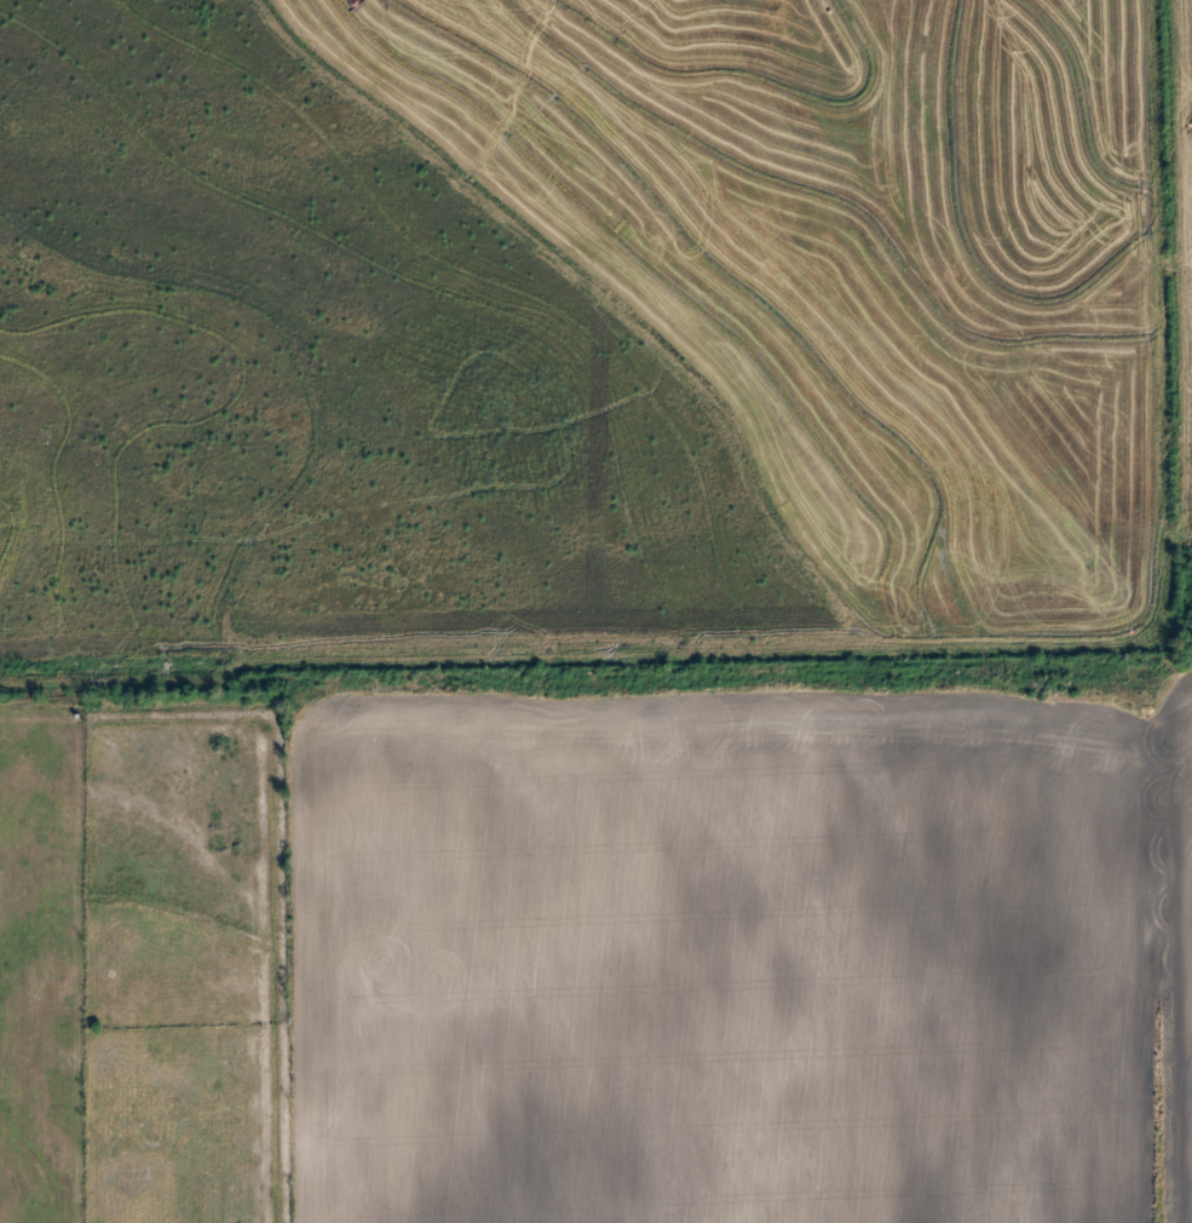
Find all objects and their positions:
road: (595, 654)

